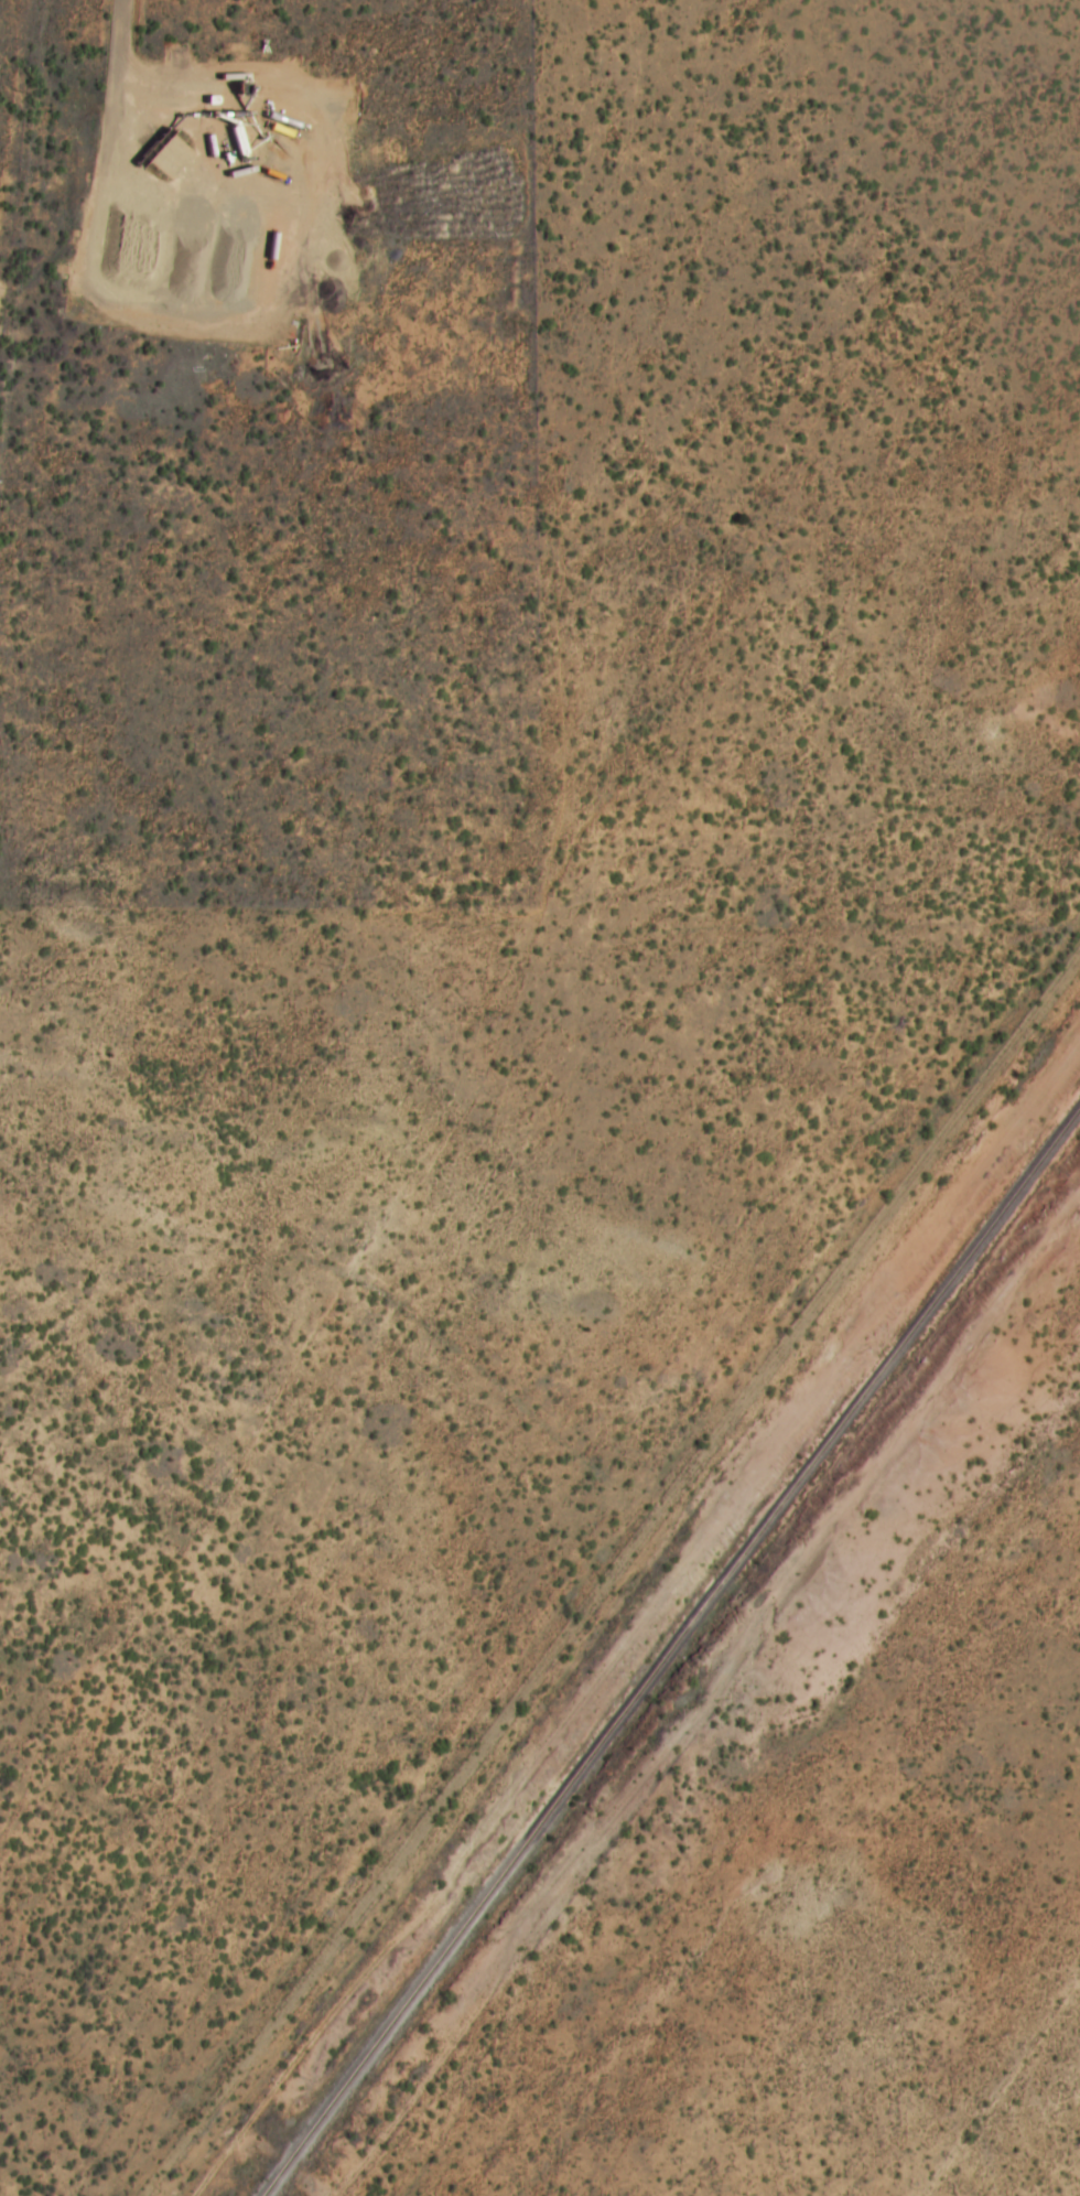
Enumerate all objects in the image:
road: (650, 1521)
railway: (670, 1651)
road: (187, 2145)

